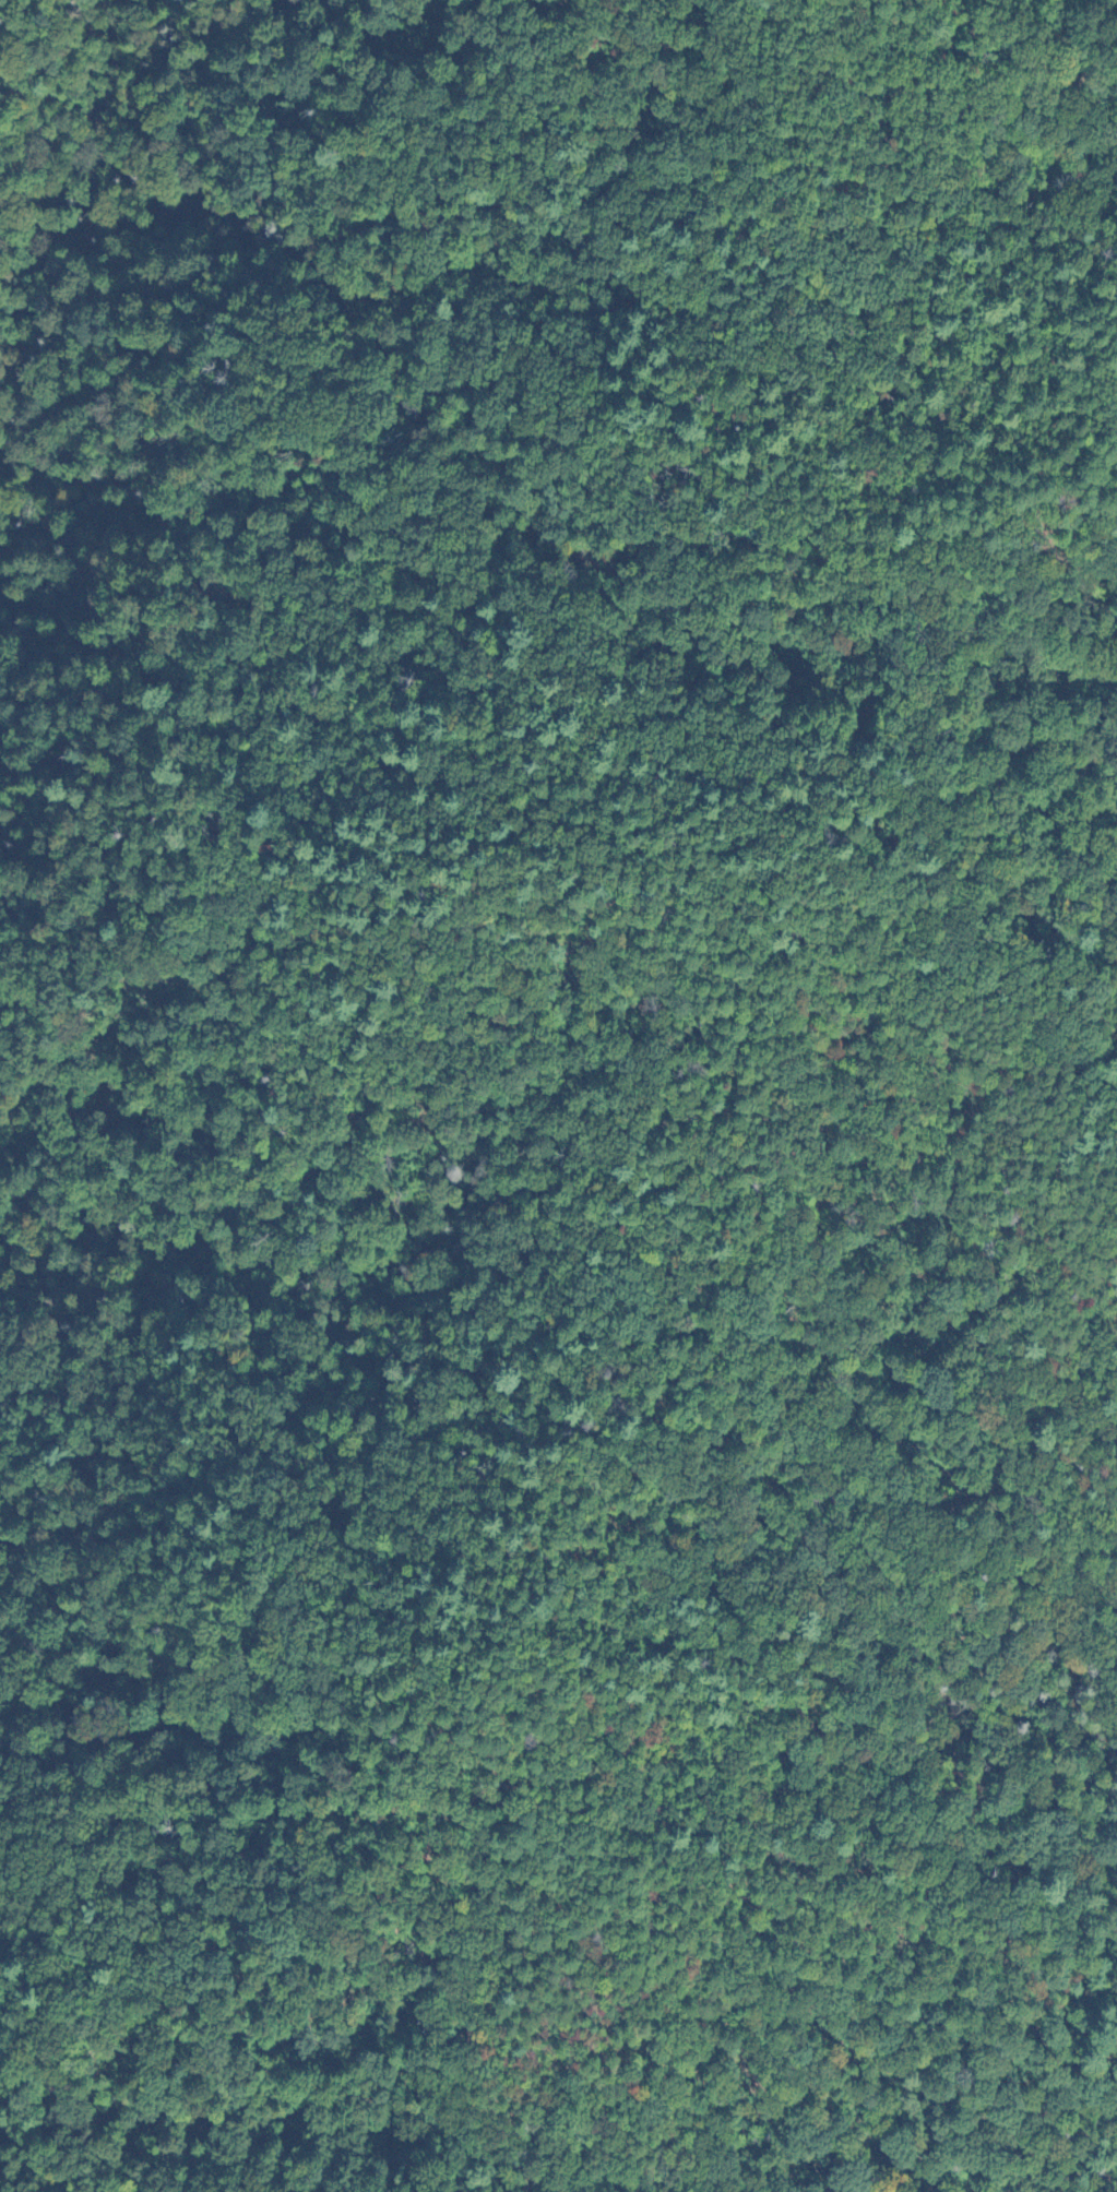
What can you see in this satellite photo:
road: (25, 104)
road: (879, 1014)

